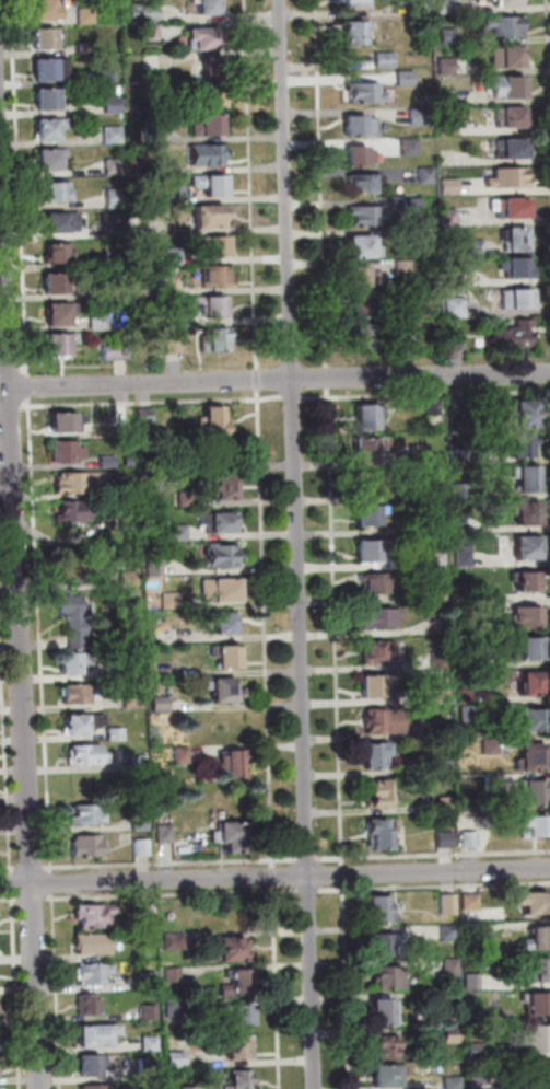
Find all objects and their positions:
building: (352, 2)
building: (501, 2)
building: (420, 5)
building: (207, 7)
building: (445, 7)
building: (149, 8)
building: (39, 10)
building: (84, 12)
building: (503, 26)
building: (148, 30)
building: (200, 30)
building: (352, 31)
building: (447, 36)
building: (38, 39)
building: (502, 57)
building: (149, 58)
building: (383, 58)
road: (548, 61)
building: (444, 63)
building: (211, 66)
building: (40, 69)
building: (102, 74)
building: (403, 77)
building: (505, 86)
building: (358, 89)
building: (208, 95)
building: (445, 95)
building: (42, 99)
building: (110, 103)
building: (417, 113)
building: (506, 117)
building: (206, 123)
building: (355, 124)
building: (448, 125)
building: (42, 127)
building: (150, 131)
building: (110, 135)
building: (407, 146)
building: (507, 150)
building: (356, 154)
building: (204, 155)
building: (47, 159)
building: (112, 165)
building: (425, 174)
building: (505, 175)
building: (356, 183)
building: (211, 185)
building: (448, 186)
building: (54, 188)
building: (172, 190)
building: (112, 196)
building: (409, 206)
building: (507, 208)
building: (363, 212)
building: (207, 213)
building: (448, 217)
building: (58, 219)
building: (405, 236)
building: (511, 236)
building: (211, 245)
building: (354, 246)
building: (472, 246)
building: (56, 248)
building: (171, 254)
building: (401, 265)
building: (514, 268)
building: (210, 276)
building: (353, 276)
building: (450, 278)
building: (50, 281)
building: (116, 286)
building: (405, 296)
building: (513, 299)
building: (452, 305)
building: (210, 306)
building: (356, 306)
building: (55, 315)
building: (97, 320)
building: (359, 333)
building: (212, 338)
building: (403, 338)
building: (452, 339)
building: (505, 339)
building: (55, 344)
building: (171, 344)
building: (114, 348)
road: (274, 379)
road: (274, 394)
building: (431, 403)
building: (519, 410)
building: (362, 415)
building: (219, 417)
building: (67, 419)
road: (28, 435)
building: (519, 444)
building: (361, 448)
building: (69, 449)
building: (222, 449)
building: (416, 451)
building: (182, 460)
building: (107, 461)
building: (129, 461)
building: (522, 475)
building: (71, 482)
building: (222, 484)
building: (363, 486)
building: (187, 496)
building: (75, 508)
building: (522, 511)
building: (362, 515)
building: (131, 519)
building: (226, 520)
building: (458, 522)
building: (430, 524)
building: (177, 530)
road: (293, 544)
road: (330, 544)
building: (523, 547)
building: (364, 551)
building: (223, 552)
building: (460, 556)
building: (432, 557)
building: (72, 558)
road: (262, 565)
building: (155, 568)
building: (77, 571)
building: (127, 576)
building: (524, 581)
building: (370, 584)
building: (230, 586)
building: (460, 591)
building: (437, 593)
building: (172, 600)
building: (72, 602)
road: (22, 605)
building: (460, 613)
building: (522, 615)
building: (374, 618)
building: (226, 622)
building: (436, 625)
building: (166, 628)
building: (374, 649)
building: (526, 649)
building: (232, 652)
building: (438, 657)
building: (72, 662)
building: (114, 668)
building: (227, 685)
building: (375, 686)
building: (527, 686)
building: (79, 691)
building: (438, 693)
building: (465, 694)
building: (134, 699)
building: (161, 702)
building: (377, 718)
building: (529, 720)
building: (79, 722)
building: (116, 730)
building: (86, 754)
building: (182, 755)
building: (373, 755)
building: (530, 757)
building: (138, 761)
building: (232, 762)
building: (442, 766)
building: (374, 792)
building: (528, 795)
building: (442, 803)
building: (86, 812)
building: (140, 819)
building: (530, 824)
building: (376, 830)
building: (165, 833)
building: (234, 833)
building: (442, 836)
building: (467, 837)
building: (90, 843)
building: (139, 846)
road: (432, 853)
road: (281, 858)
road: (306, 858)
road: (272, 874)
road: (274, 877)
road: (50, 880)
road: (434, 885)
road: (10, 887)
road: (307, 890)
road: (168, 892)
road: (8, 897)
road: (31, 897)
building: (524, 901)
building: (470, 902)
building: (447, 903)
building: (381, 907)
building: (152, 913)
building: (97, 916)
building: (448, 931)
building: (470, 931)
building: (534, 936)
building: (177, 941)
building: (96, 943)
building: (388, 947)
building: (237, 950)
building: (450, 965)
building: (530, 969)
building: (97, 974)
building: (175, 975)
building: (383, 978)
building: (150, 981)
building: (471, 981)
building: (239, 983)
road: (277, 986)
road: (55, 989)
building: (447, 997)
building: (531, 999)
building: (91, 1006)
building: (178, 1010)
building: (152, 1012)
building: (381, 1012)
building: (242, 1015)
building: (473, 1016)
building: (534, 1034)
building: (100, 1035)
building: (452, 1035)
building: (153, 1044)
building: (381, 1046)
building: (238, 1047)
building: (477, 1047)
building: (178, 1061)
building: (95, 1066)
building: (535, 1069)
building: (150, 1070)
building: (383, 1077)
building: (243, 1079)
building: (449, 1080)
building: (478, 1082)
building: (98, 1087)

